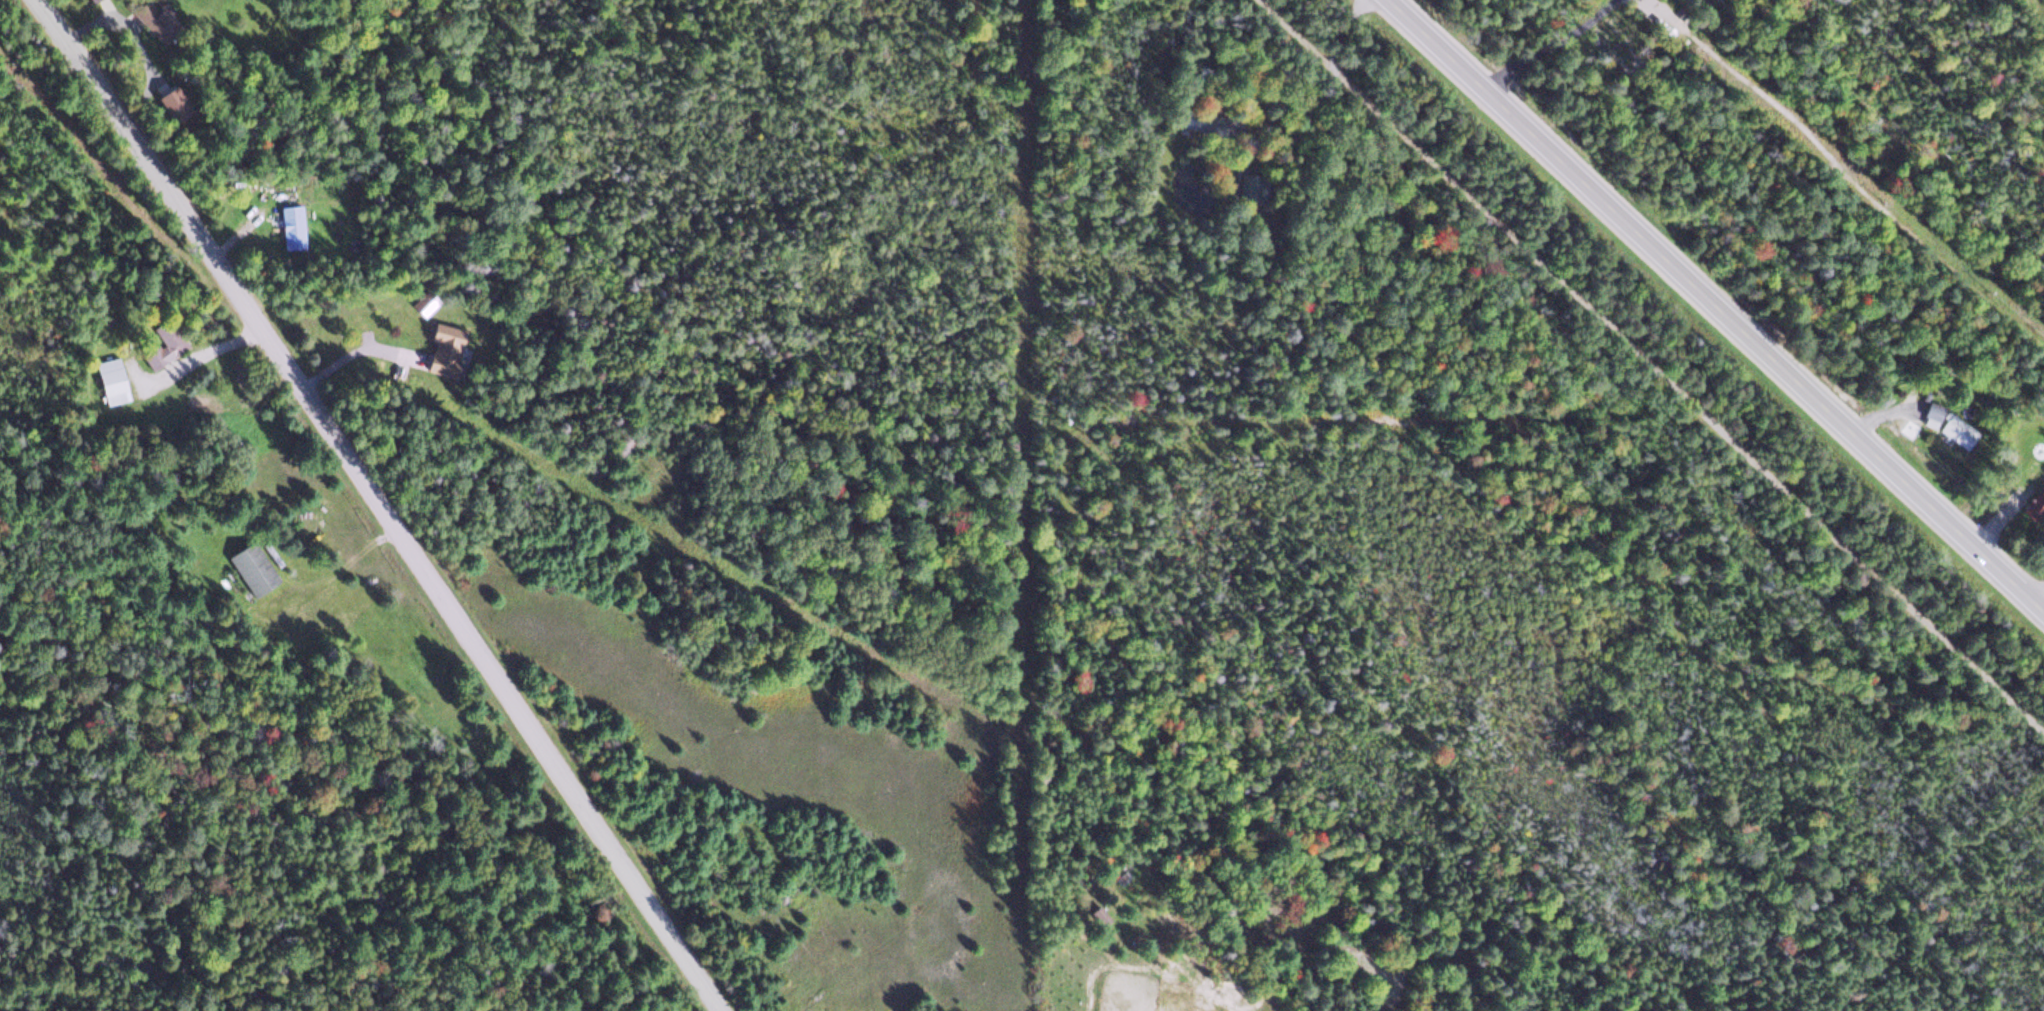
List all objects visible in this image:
building: (86, 0)
building: (146, 17)
road: (1309, 57)
road: (1587, 78)
building: (1197, 121)
building: (288, 224)
road: (1716, 303)
building: (161, 345)
building: (439, 347)
road: (1648, 369)
building: (109, 380)
building: (1948, 424)
building: (2036, 501)
road: (378, 504)
building: (248, 567)
road: (2041, 601)

